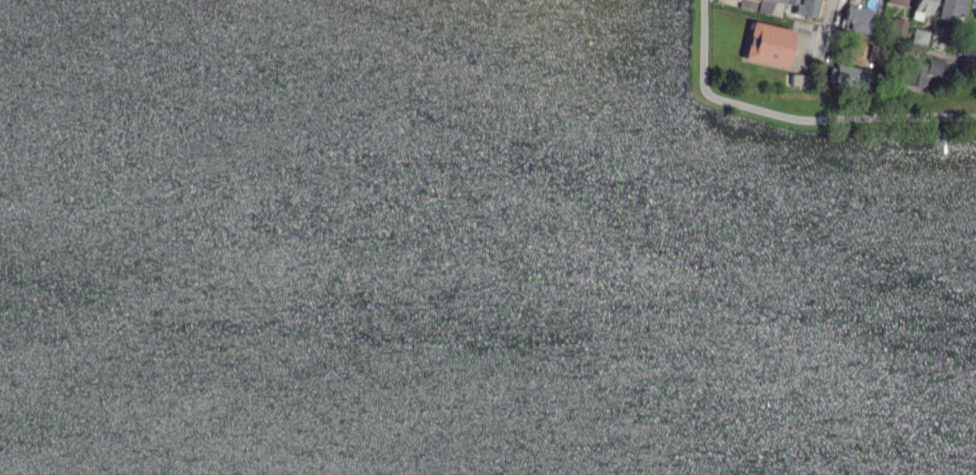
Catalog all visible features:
building: (896, 2)
building: (748, 4)
building: (767, 5)
building: (805, 7)
building: (921, 8)
building: (951, 8)
road: (831, 15)
building: (857, 18)
building: (897, 27)
building: (919, 36)
road: (884, 42)
building: (766, 44)
building: (969, 46)
building: (861, 51)
building: (935, 68)
building: (914, 74)
building: (848, 75)
road: (793, 118)

